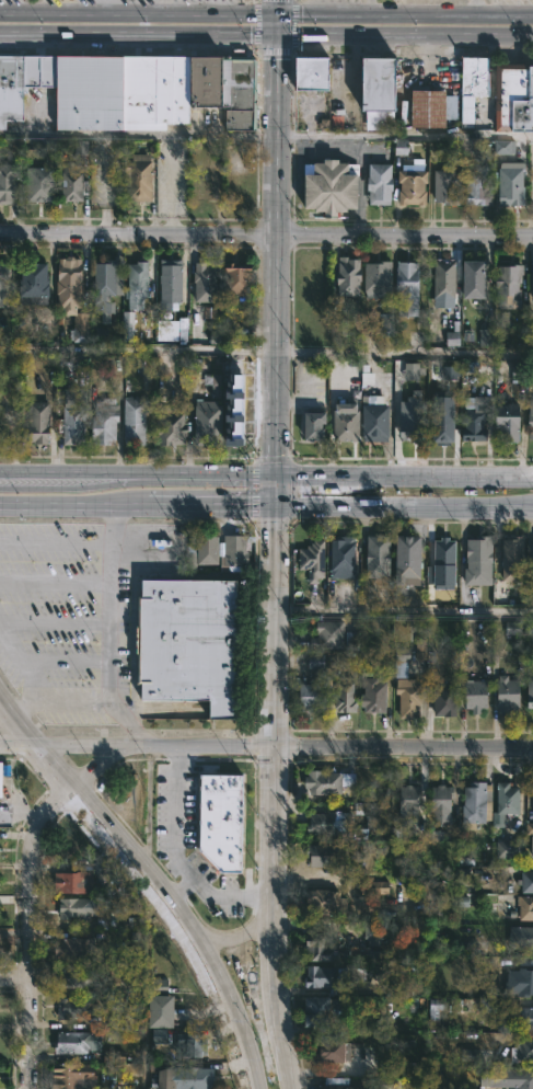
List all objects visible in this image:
road: (106, 7)
road: (162, 8)
road: (274, 8)
road: (369, 8)
road: (474, 8)
road: (45, 14)
road: (182, 15)
traffic signals: (274, 15)
road: (321, 15)
road: (451, 15)
road: (274, 24)
road: (183, 34)
traffic signals: (274, 34)
road: (403, 34)
road: (46, 35)
building: (318, 73)
building: (381, 83)
building: (475, 87)
building: (131, 90)
building: (515, 96)
building: (434, 107)
road: (137, 134)
road: (403, 135)
building: (501, 147)
building: (413, 176)
building: (140, 179)
building: (73, 181)
building: (9, 182)
building: (478, 183)
building: (39, 184)
building: (382, 184)
building: (513, 184)
building: (448, 186)
building: (327, 187)
road: (266, 231)
road: (273, 264)
building: (350, 276)
building: (106, 278)
building: (241, 278)
building: (447, 278)
building: (379, 279)
building: (478, 279)
building: (173, 280)
building: (207, 280)
building: (509, 283)
building: (4, 284)
building: (36, 284)
building: (72, 284)
building: (139, 285)
building: (409, 288)
building: (127, 325)
building: (387, 325)
building: (166, 330)
building: (485, 336)
road: (266, 349)
building: (450, 370)
building: (414, 371)
building: (215, 386)
building: (76, 419)
building: (415, 419)
building: (376, 420)
building: (532, 420)
building: (106, 421)
building: (136, 421)
building: (475, 421)
building: (348, 422)
building: (510, 422)
building: (38, 423)
building: (209, 423)
building: (172, 425)
building: (444, 425)
building: (314, 426)
road: (198, 471)
traffic signals: (273, 471)
road: (61, 472)
road: (403, 472)
traffic signals: (273, 494)
road: (209, 495)
road: (403, 495)
road: (72, 497)
road: (55, 543)
building: (208, 550)
building: (235, 551)
building: (447, 553)
building: (345, 557)
building: (380, 557)
building: (314, 560)
building: (412, 560)
building: (480, 561)
building: (511, 566)
road: (54, 581)
road: (402, 609)
road: (107, 627)
building: (329, 635)
building: (189, 643)
building: (419, 651)
building: (315, 662)
building: (402, 662)
road: (19, 665)
building: (531, 692)
building: (477, 696)
building: (509, 696)
building: (347, 697)
building: (374, 697)
building: (409, 697)
building: (314, 698)
road: (58, 700)
building: (447, 703)
road: (271, 745)
road: (266, 748)
building: (3, 775)
building: (324, 782)
building: (410, 802)
building: (508, 802)
building: (442, 803)
building: (476, 803)
building: (378, 815)
building: (220, 822)
building: (332, 822)
building: (529, 828)
road: (112, 834)
building: (513, 845)
building: (531, 847)
building: (328, 853)
road: (177, 858)
building: (102, 867)
building: (462, 876)
building: (76, 881)
building: (526, 881)
building: (373, 887)
road: (177, 890)
road: (32, 896)
building: (326, 902)
building: (526, 906)
building: (85, 909)
building: (524, 936)
building: (370, 939)
building: (76, 945)
building: (321, 945)
building: (77, 976)
road: (18, 977)
building: (331, 977)
building: (521, 981)
road: (144, 1001)
building: (487, 1005)
building: (78, 1007)
building: (163, 1009)
building: (436, 1009)
building: (326, 1011)
building: (521, 1017)
road: (253, 1028)
road: (232, 1032)
building: (158, 1036)
building: (78, 1041)
building: (193, 1044)
building: (336, 1050)
building: (522, 1050)
building: (468, 1055)
building: (72, 1074)
building: (187, 1077)
building: (512, 1078)
building: (337, 1084)

